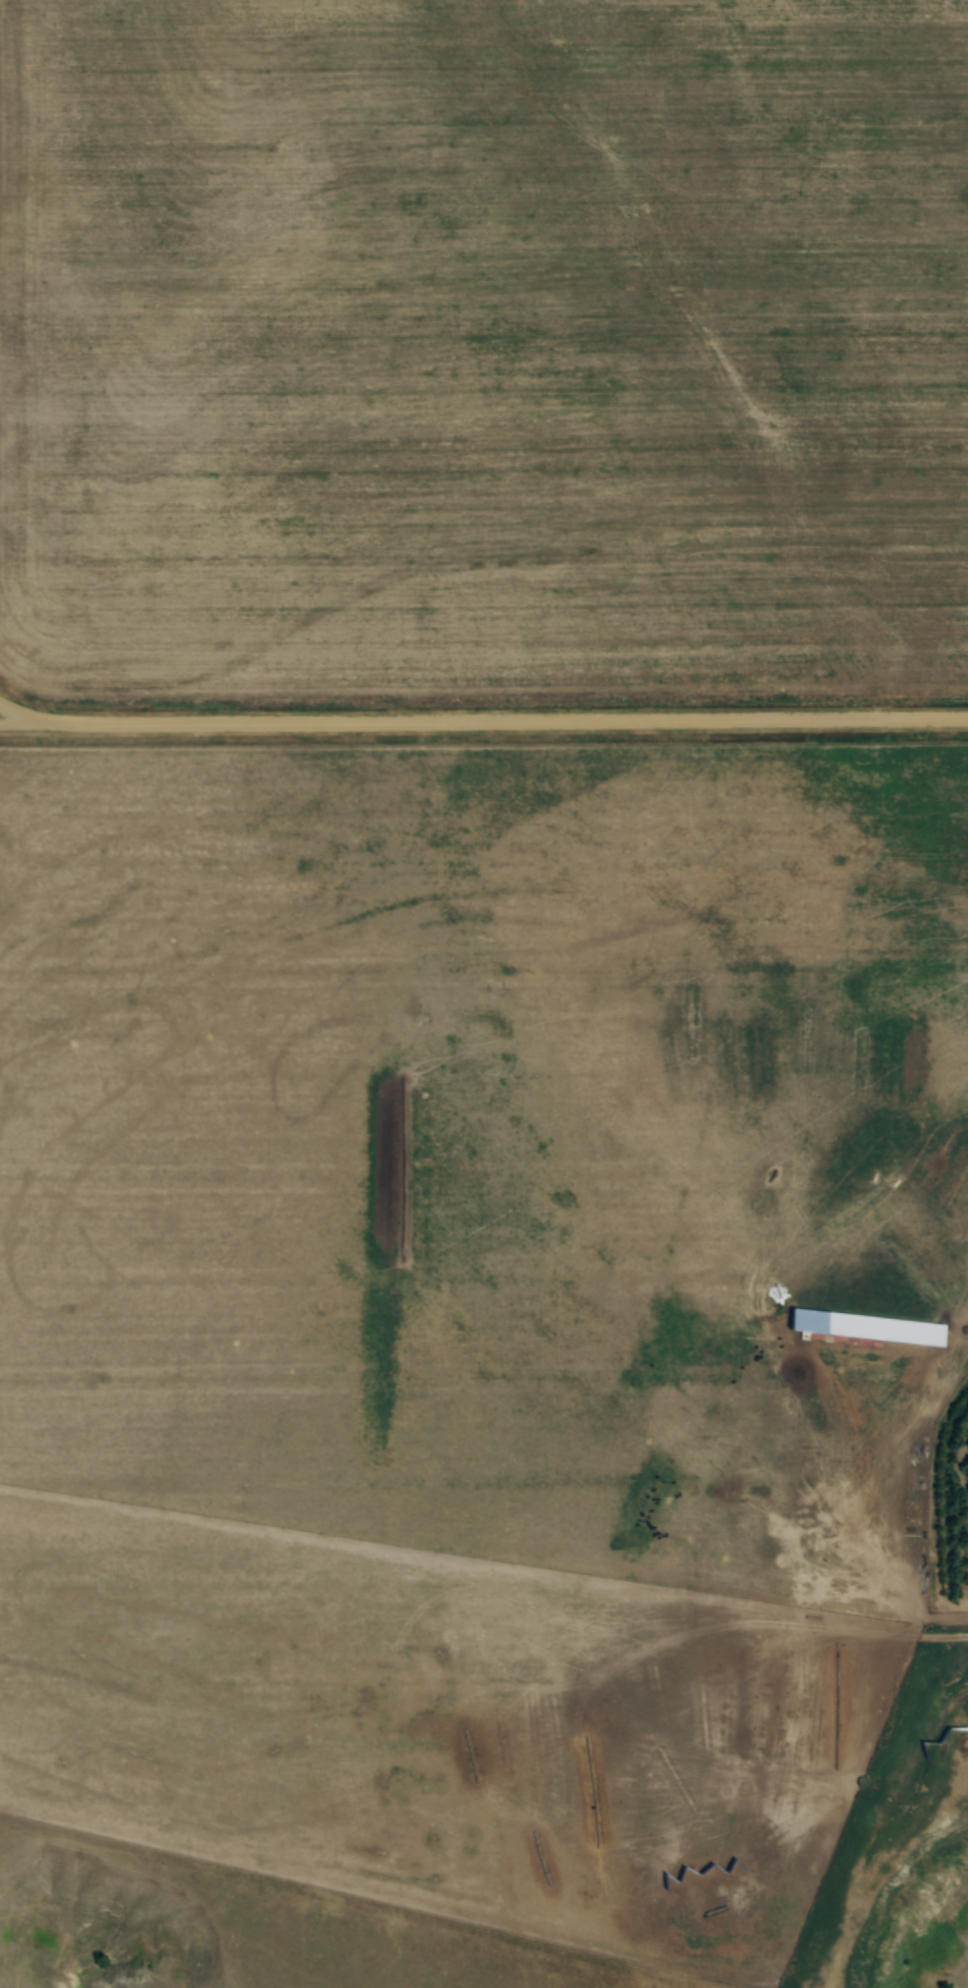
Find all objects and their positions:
road: (482, 730)
road: (18, 731)

